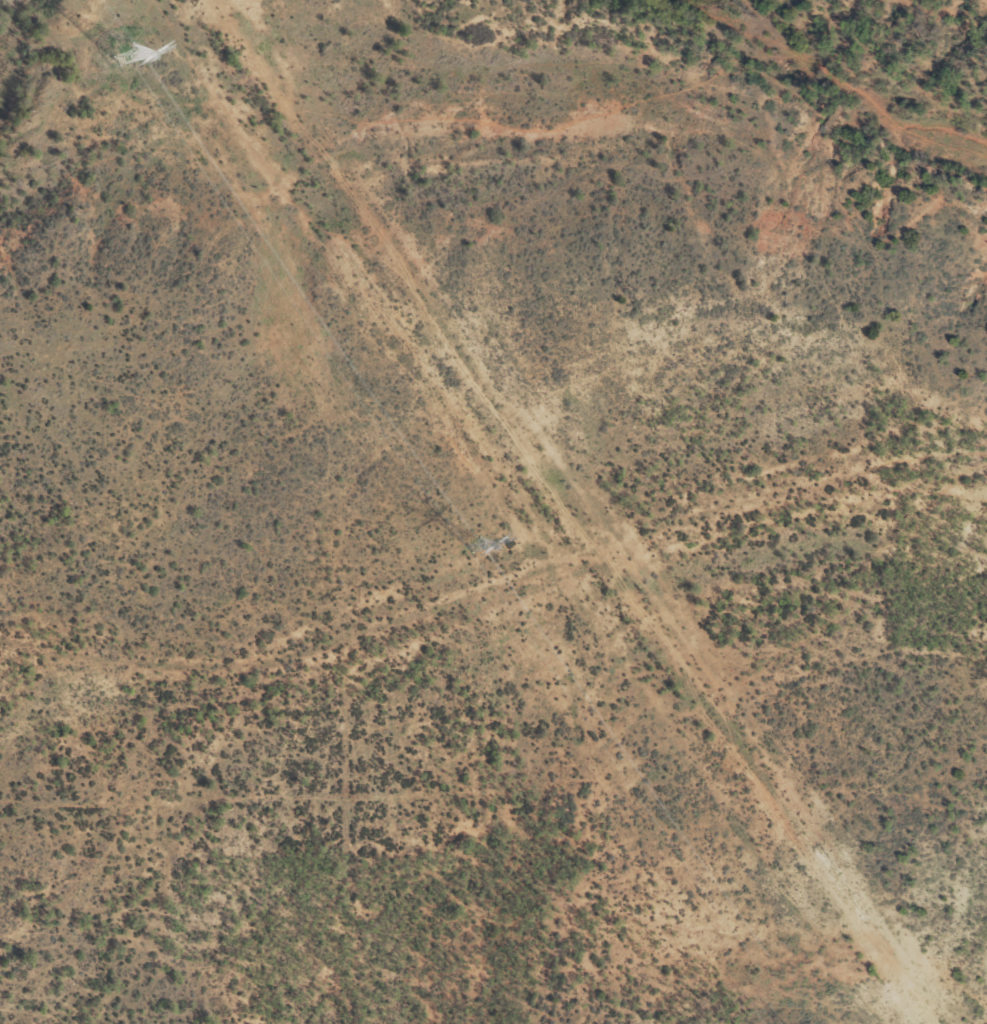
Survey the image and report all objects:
power tower: (123, 54)
power tower: (475, 545)
road: (581, 562)

